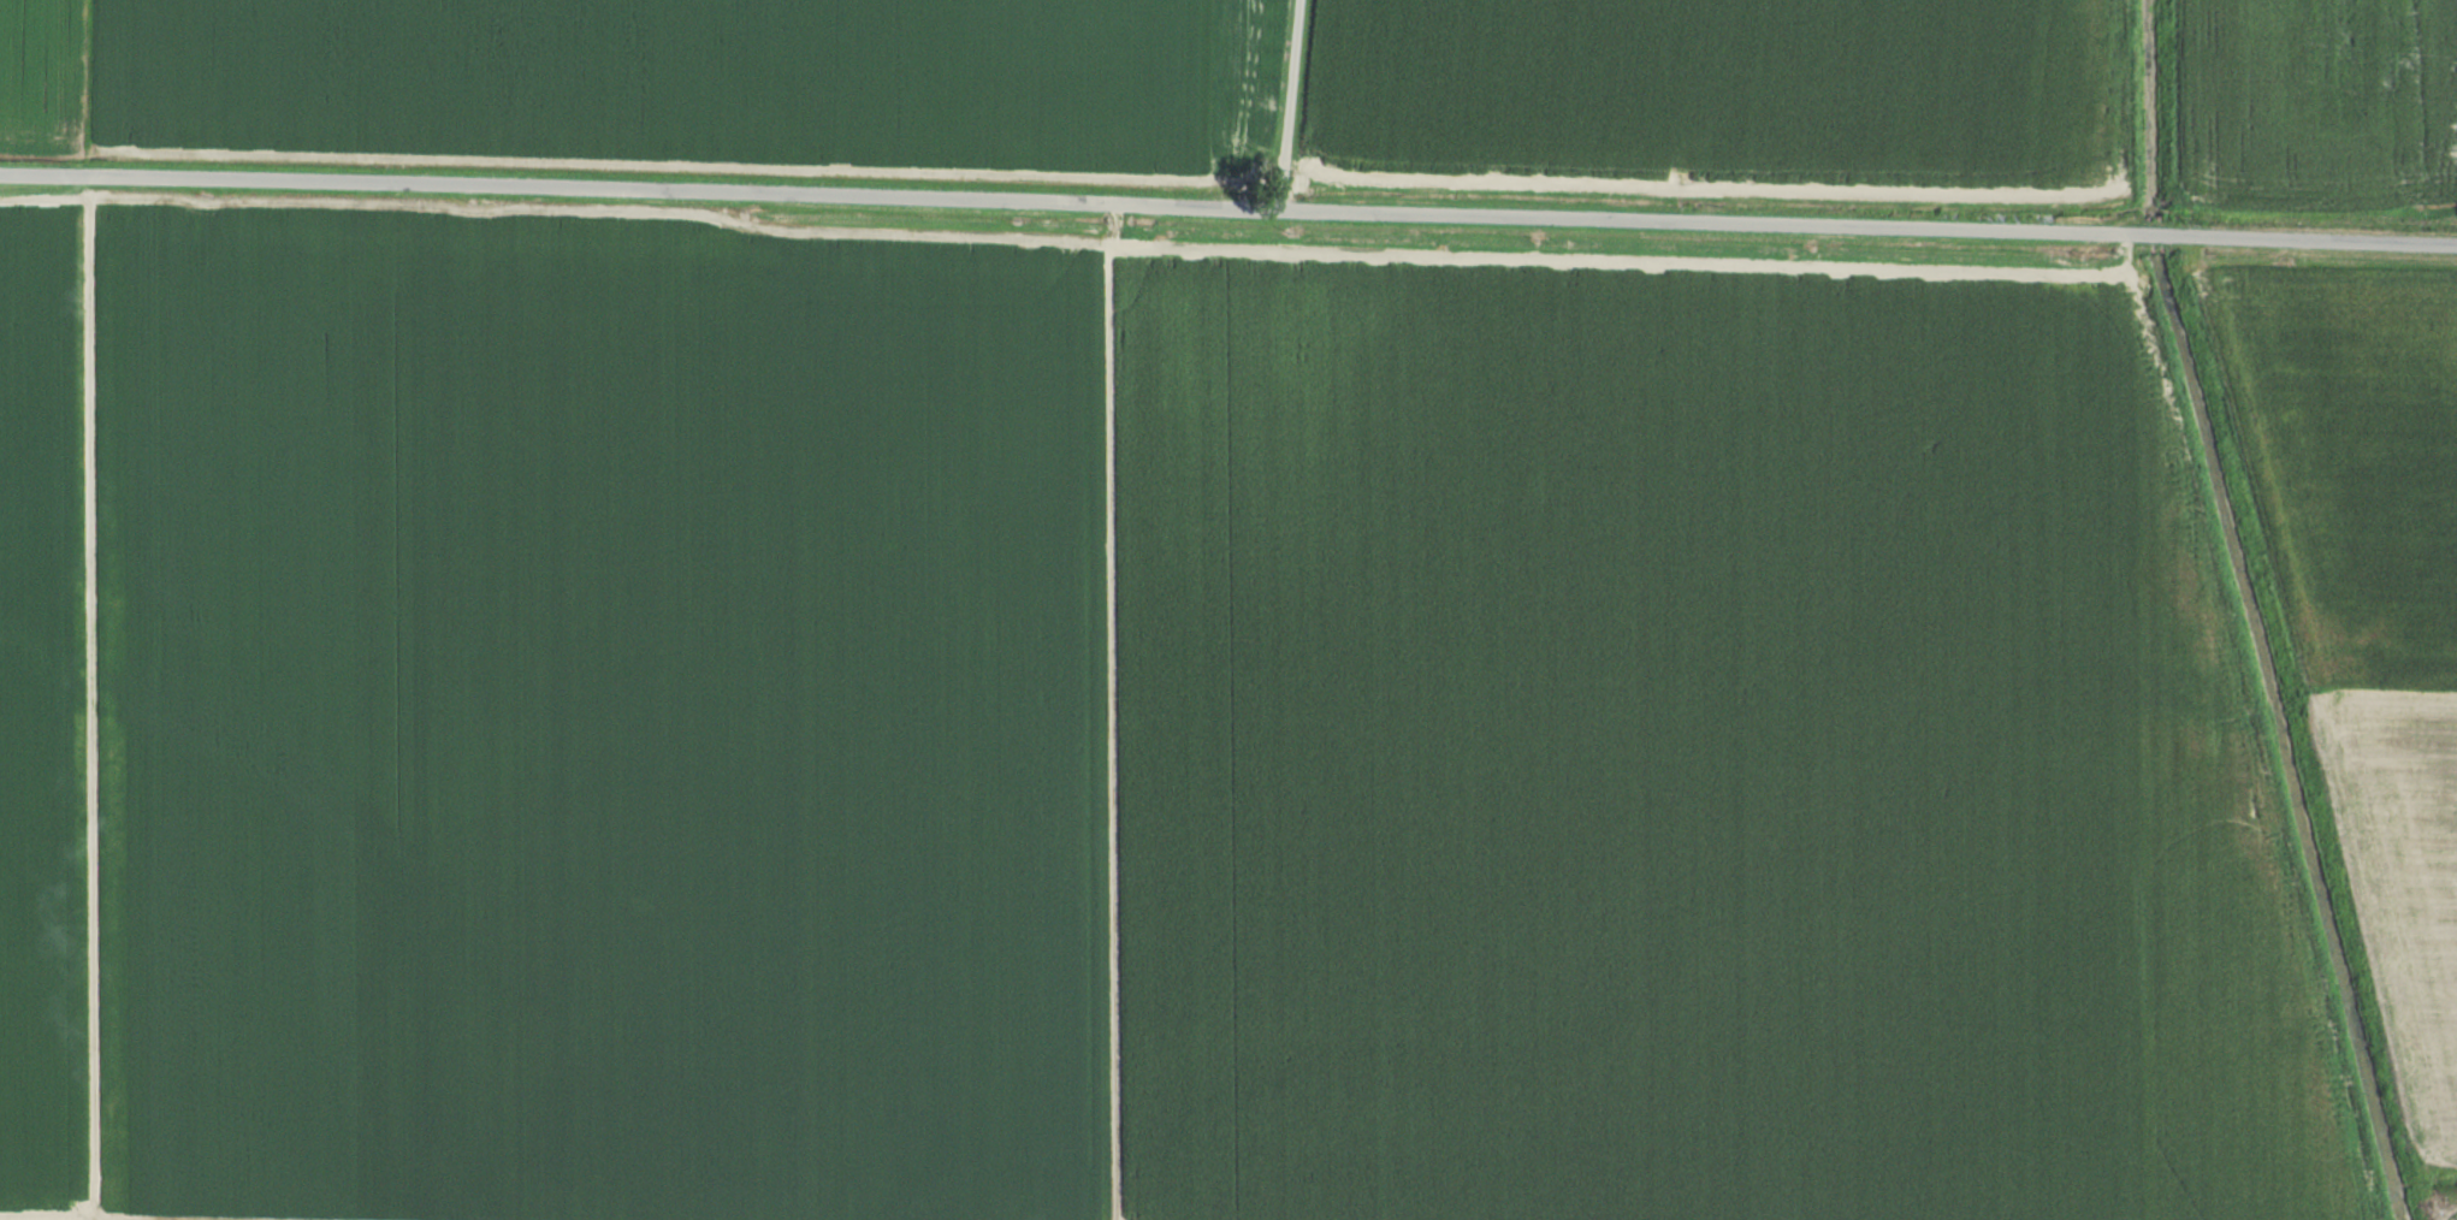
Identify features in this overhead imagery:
road: (1296, 106)
road: (1228, 211)

